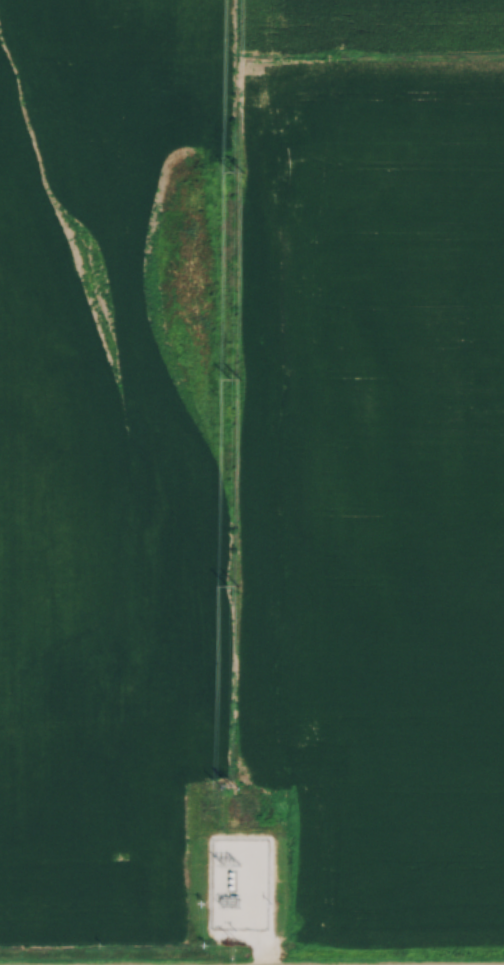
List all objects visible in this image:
power tower: (231, 790)
power tower: (231, 859)
road: (262, 945)

